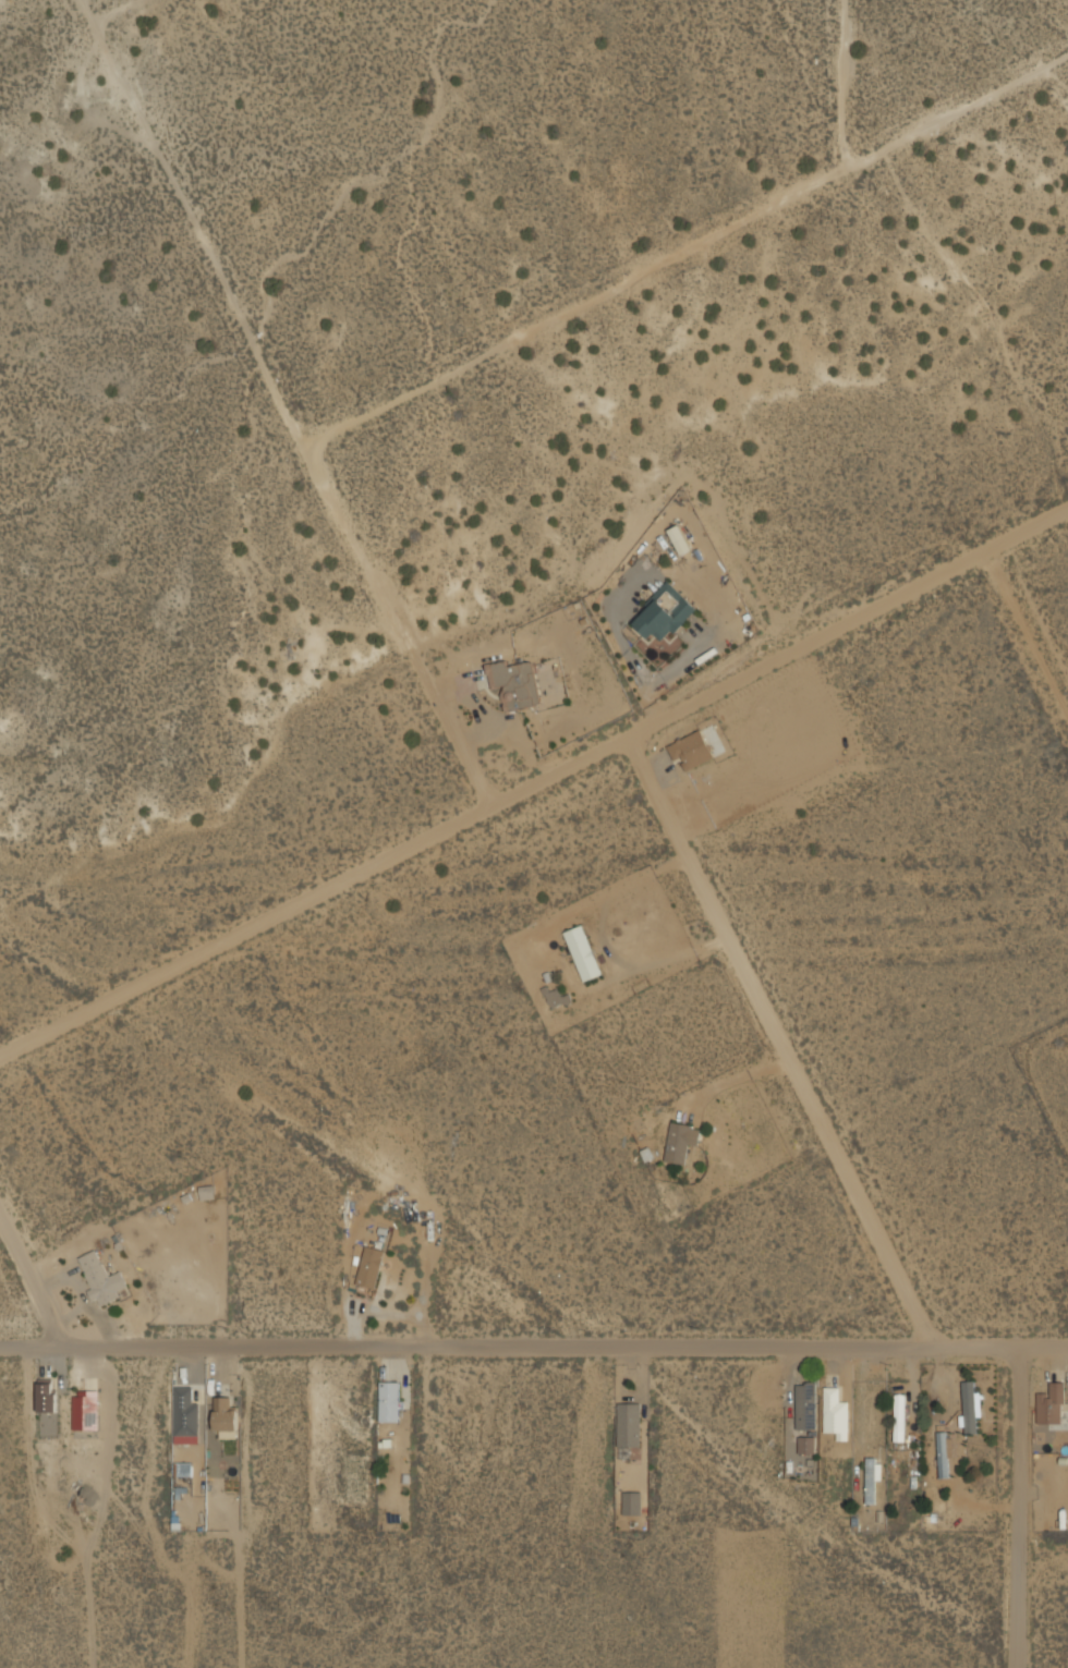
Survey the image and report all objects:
road: (885, 147)
building: (679, 539)
building: (664, 612)
road: (1027, 633)
building: (515, 682)
building: (691, 750)
road: (535, 786)
building: (582, 951)
building: (557, 997)
road: (778, 1043)
building: (680, 1141)
building: (206, 1192)
building: (371, 1266)
building: (100, 1278)
road: (26, 1288)
road: (534, 1346)
building: (47, 1396)
building: (389, 1400)
building: (1052, 1402)
building: (806, 1403)
building: (970, 1407)
building: (85, 1410)
building: (185, 1411)
building: (835, 1412)
building: (224, 1413)
building: (899, 1415)
building: (628, 1424)
building: (806, 1442)
building: (944, 1453)
building: (184, 1468)
building: (871, 1480)
building: (631, 1501)
road: (1017, 1507)

